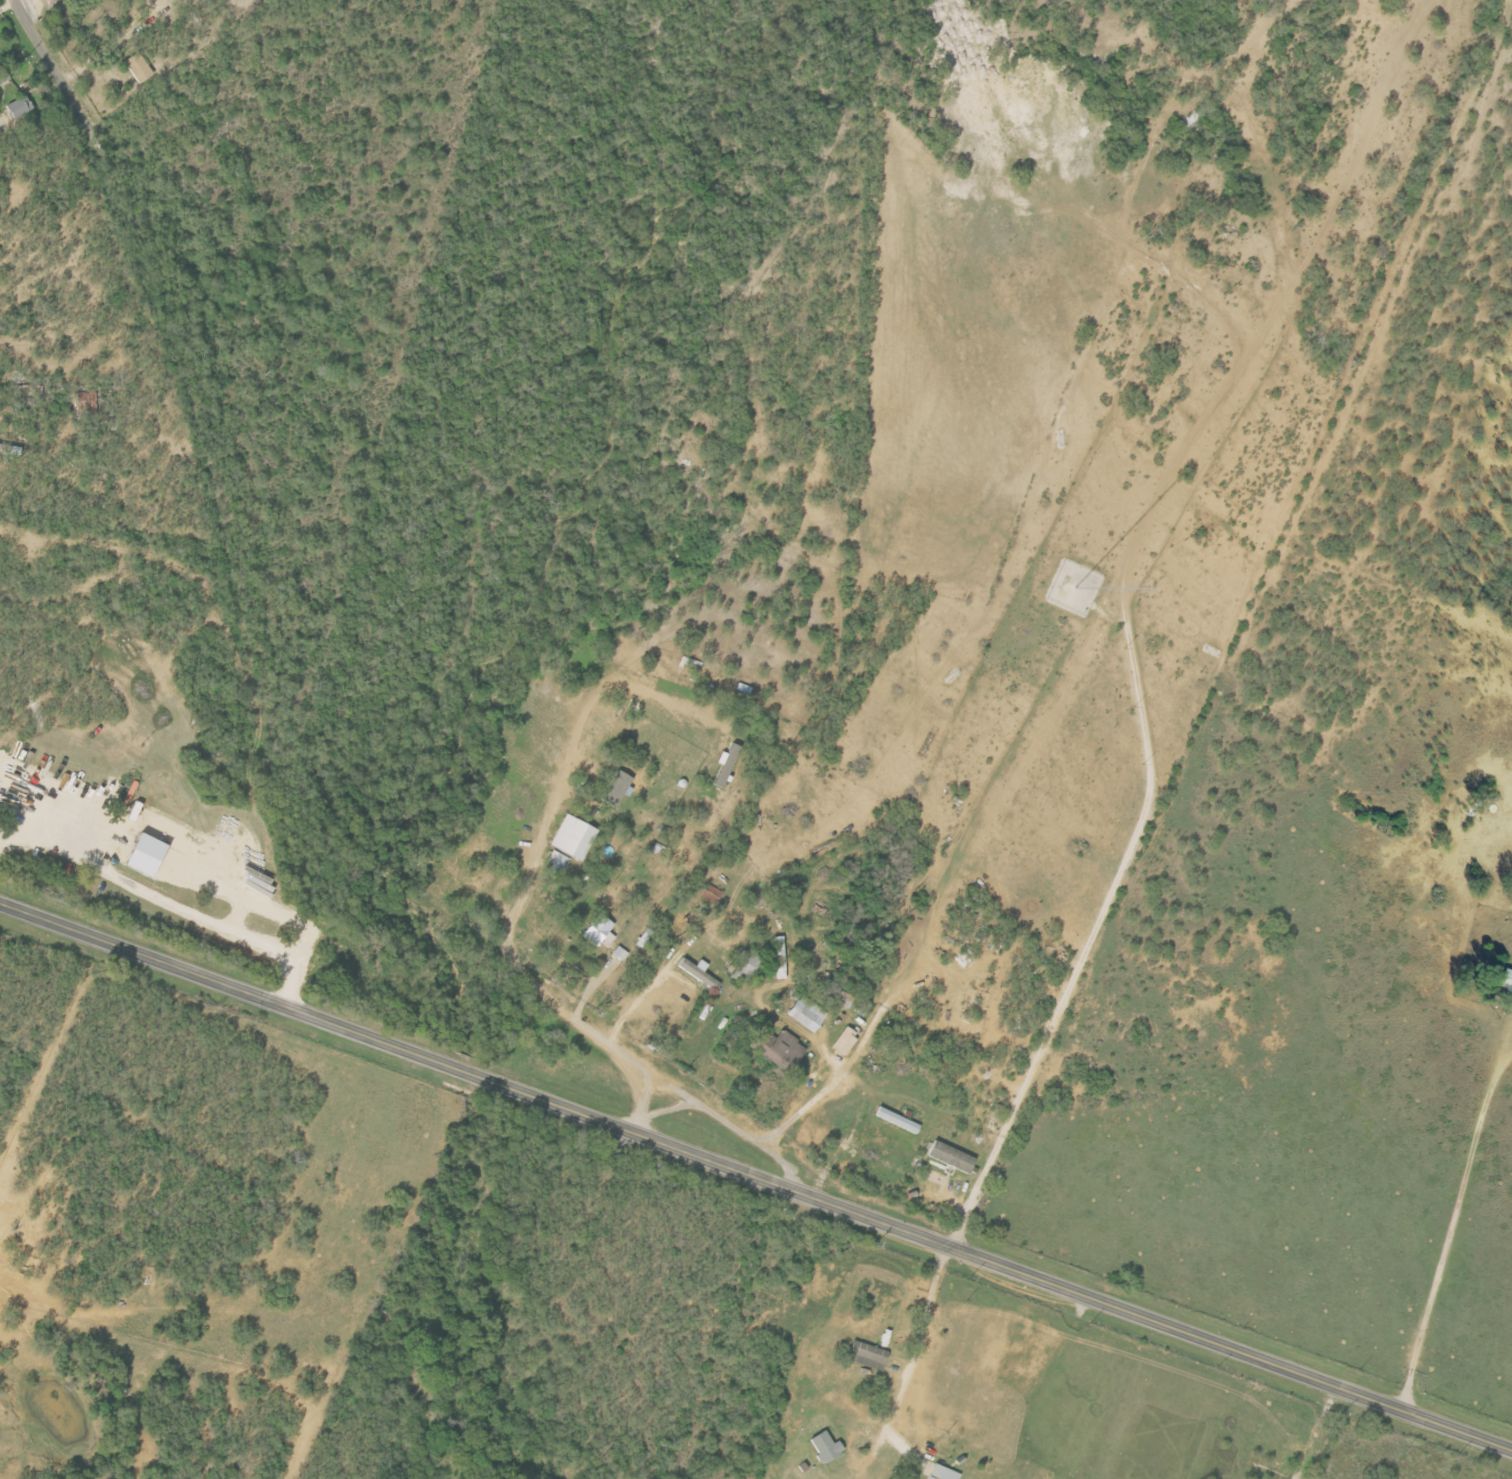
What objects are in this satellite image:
road: (118, 41)
road: (51, 65)
building: (135, 67)
building: (17, 108)
building: (85, 402)
building: (722, 765)
building: (612, 789)
building: (570, 838)
building: (138, 856)
building: (556, 859)
building: (708, 894)
road: (168, 903)
road: (1098, 918)
building: (596, 931)
building: (778, 958)
building: (743, 965)
building: (695, 974)
building: (1507, 979)
road: (634, 1001)
building: (804, 1013)
building: (842, 1041)
building: (782, 1050)
road: (682, 1092)
road: (644, 1097)
road: (799, 1110)
building: (898, 1120)
building: (952, 1156)
road: (756, 1176)
road: (1450, 1231)
road: (919, 1337)
building: (869, 1355)
building: (828, 1446)
building: (945, 1473)

